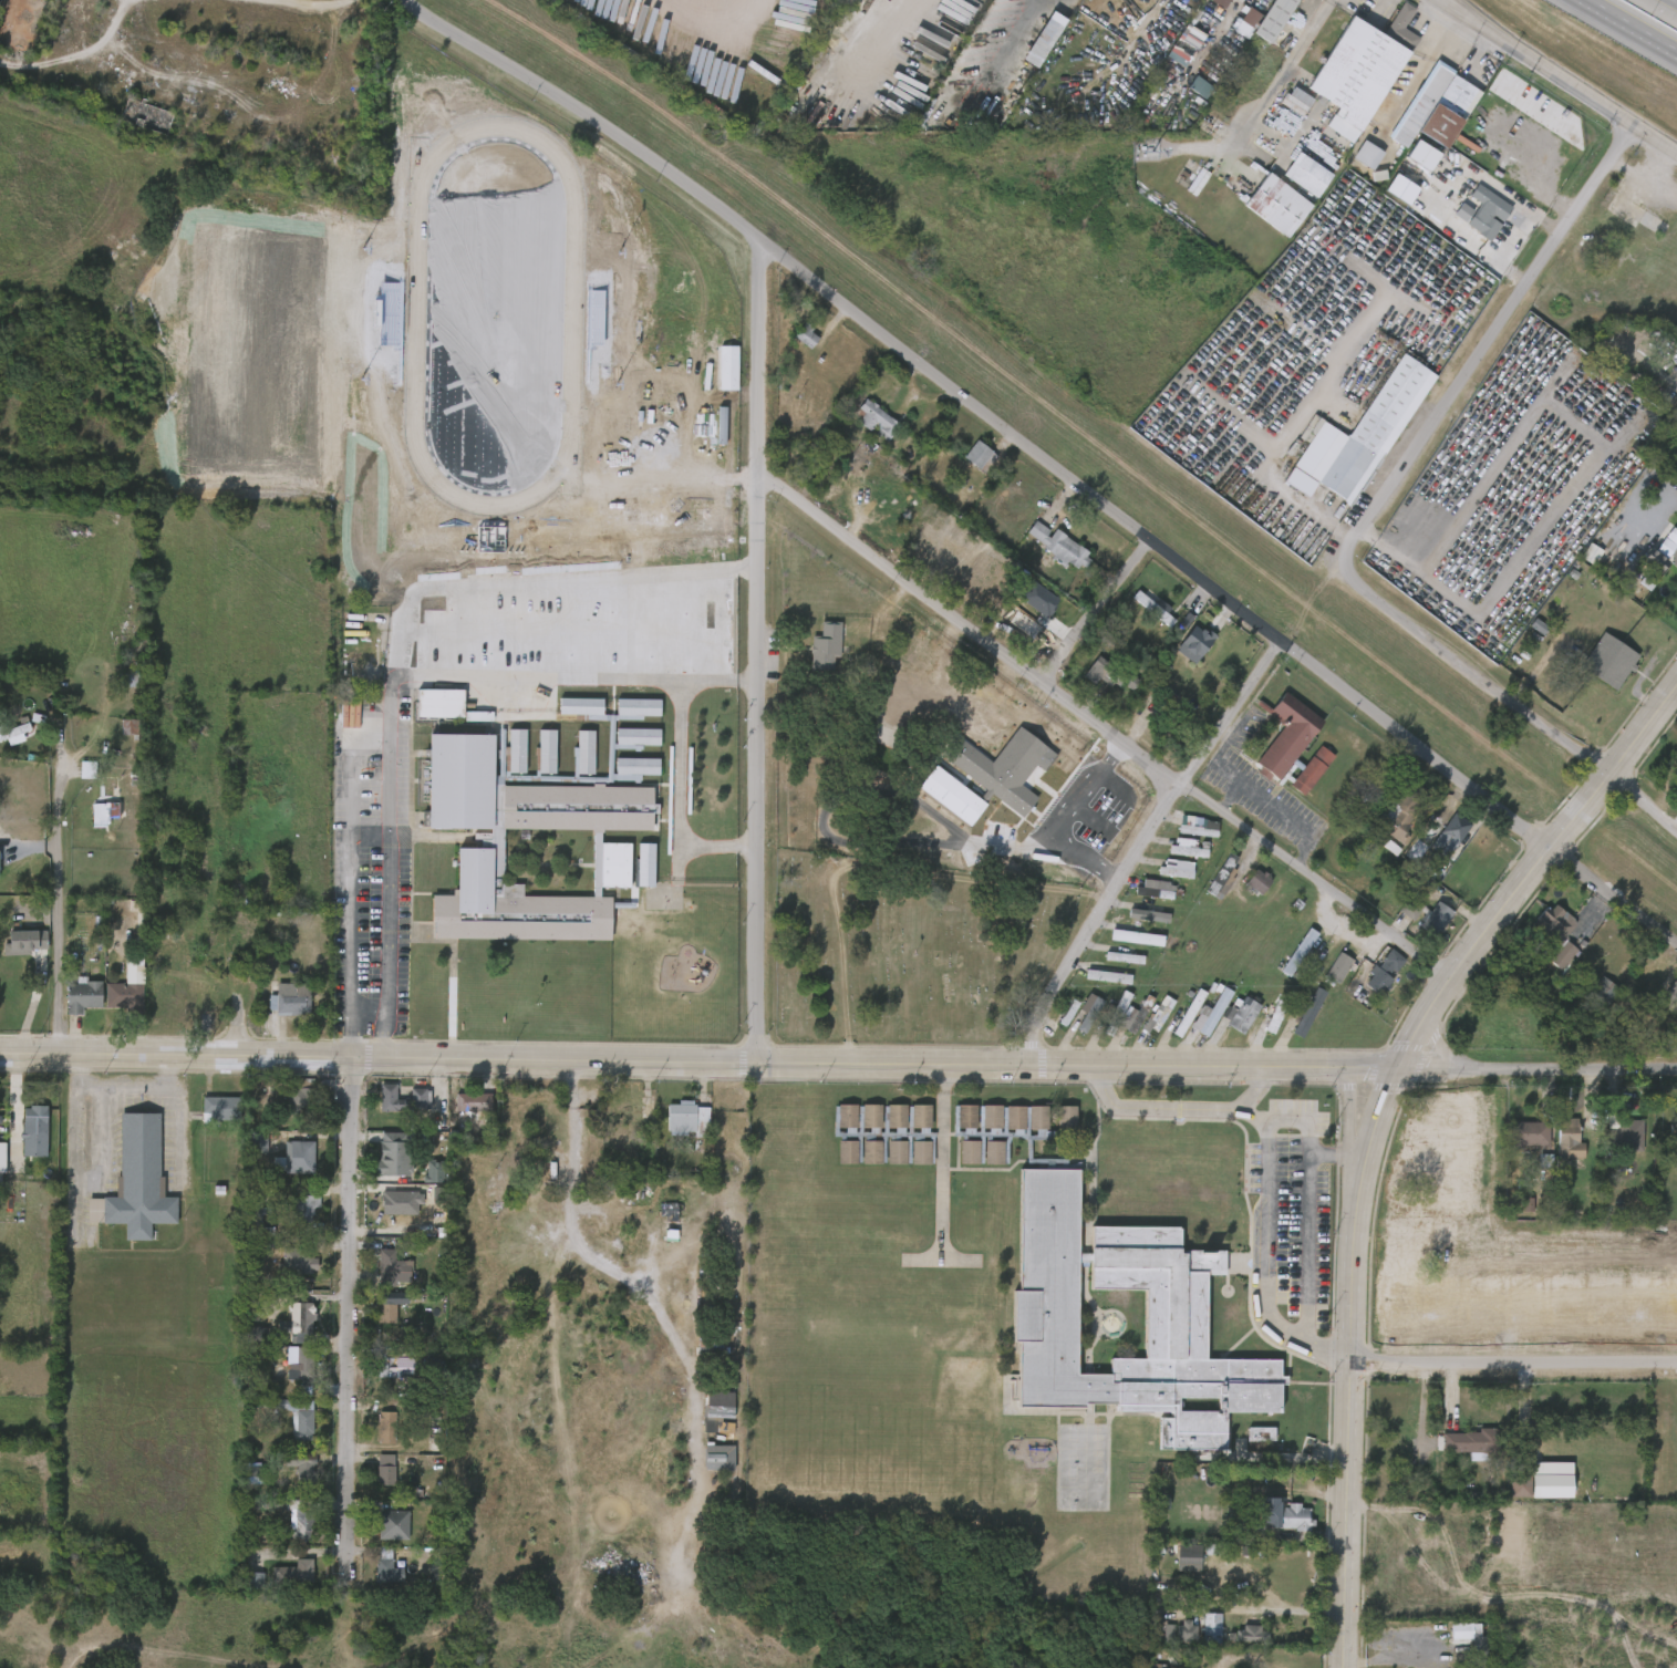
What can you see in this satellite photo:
road: (128, 0)
road: (1675, 1)
building: (1220, 2)
road: (1450, 6)
building: (1209, 7)
road: (278, 9)
road: (1321, 12)
building: (1266, 19)
building: (21, 24)
road: (1628, 28)
building: (1233, 32)
road: (1212, 37)
building: (1035, 38)
building: (1359, 70)
road: (1556, 77)
building: (1298, 101)
building: (1433, 107)
building: (1284, 108)
building: (147, 116)
building: (1354, 164)
building: (1304, 175)
building: (1293, 184)
building: (1272, 204)
building: (1489, 211)
building: (1470, 221)
road: (1539, 282)
building: (793, 344)
road: (750, 362)
building: (728, 366)
park: (505, 372)
building: (715, 377)
road: (1594, 394)
road: (976, 406)
building: (877, 419)
building: (863, 429)
building: (1365, 432)
building: (981, 456)
road: (1470, 458)
building: (966, 466)
road: (1394, 499)
building: (659, 515)
road: (1559, 527)
building: (1060, 546)
building: (615, 547)
building: (1665, 547)
building: (1046, 556)
building: (1650, 556)
road: (721, 569)
building: (1667, 580)
road: (1426, 581)
building: (361, 592)
building: (1152, 605)
road: (1103, 618)
road: (401, 634)
building: (1194, 640)
building: (827, 646)
building: (1180, 652)
building: (811, 656)
building: (1609, 661)
building: (1109, 674)
road: (716, 680)
building: (1081, 681)
road: (1508, 696)
building: (640, 707)
building: (426, 712)
building: (623, 717)
road: (1104, 727)
building: (13, 734)
building: (115, 736)
building: (639, 737)
building: (74, 738)
building: (1290, 744)
building: (623, 745)
building: (576, 749)
building: (598, 749)
building: (504, 759)
building: (532, 760)
road: (389, 762)
building: (570, 766)
road: (677, 767)
road: (754, 767)
building: (990, 776)
building: (75, 778)
building: (1676, 786)
road: (1242, 798)
road: (1226, 800)
building: (103, 804)
building: (938, 804)
building: (1398, 811)
road: (1368, 815)
road: (1062, 821)
building: (1455, 827)
building: (1184, 836)
building: (501, 837)
building: (1437, 843)
road: (349, 846)
road: (721, 848)
building: (1189, 850)
road: (1147, 853)
building: (1172, 857)
building: (1400, 859)
building: (1219, 873)
road: (1530, 876)
building: (1162, 878)
road: (56, 890)
building: (1244, 890)
road: (1613, 898)
building: (1142, 899)
building: (1437, 916)
building: (1396, 918)
building: (1135, 924)
building: (1422, 926)
building: (1554, 932)
building: (24, 940)
building: (1542, 942)
building: (1108, 944)
road: (387, 954)
building: (1285, 961)
building: (1110, 966)
building: (1384, 972)
building: (1324, 976)
building: (1369, 981)
park: (591, 982)
building: (1094, 985)
building: (81, 994)
building: (126, 994)
building: (1669, 994)
building: (1590, 998)
building: (291, 999)
building: (112, 1003)
building: (277, 1007)
building: (1660, 1007)
building: (1075, 1021)
building: (1198, 1021)
building: (1294, 1021)
building: (1145, 1022)
building: (1174, 1022)
building: (1228, 1024)
road: (348, 1025)
building: (1259, 1026)
building: (1119, 1027)
road: (698, 1061)
road: (1538, 1070)
building: (302, 1095)
building: (422, 1095)
road: (1241, 1095)
road: (108, 1097)
building: (475, 1101)
building: (284, 1108)
building: (390, 1108)
building: (219, 1109)
building: (459, 1110)
building: (631, 1110)
building: (868, 1116)
building: (892, 1116)
building: (915, 1116)
road: (1137, 1117)
building: (207, 1118)
building: (687, 1119)
building: (834, 1125)
building: (882, 1125)
building: (907, 1125)
building: (674, 1128)
road: (1287, 1129)
building: (33, 1130)
building: (1526, 1135)
building: (1622, 1138)
building: (1673, 1138)
building: (1567, 1139)
building: (21, 1140)
building: (1515, 1142)
building: (1555, 1148)
building: (246, 1150)
building: (397, 1151)
building: (893, 1152)
building: (918, 1152)
building: (301, 1157)
building: (834, 1160)
building: (857, 1161)
building: (882, 1161)
building: (907, 1161)
building: (380, 1162)
road: (939, 1162)
road: (1331, 1165)
building: (282, 1167)
building: (421, 1180)
building: (135, 1181)
building: (1, 1188)
building: (302, 1203)
building: (387, 1211)
building: (252, 1213)
road: (1357, 1213)
building: (292, 1215)
road: (1251, 1235)
road: (1295, 1256)
building: (296, 1257)
road: (578, 1266)
building: (391, 1267)
building: (284, 1268)
building: (377, 1275)
building: (1115, 1277)
building: (387, 1309)
road: (345, 1310)
building: (376, 1314)
building: (300, 1317)
building: (284, 1330)
building: (255, 1336)
building: (245, 1343)
road: (1321, 1358)
road: (1513, 1364)
building: (392, 1367)
building: (303, 1368)
building: (379, 1377)
building: (705, 1413)
road: (1522, 1415)
building: (297, 1416)
building: (287, 1426)
building: (385, 1428)
building: (702, 1434)
building: (373, 1436)
building: (435, 1439)
building: (1470, 1440)
building: (1246, 1442)
building: (1458, 1451)
building: (1675, 1452)
building: (705, 1465)
building: (384, 1470)
building: (301, 1471)
building: (291, 1477)
building: (372, 1478)
building: (1520, 1485)
building: (1509, 1495)
road: (1347, 1515)
building: (1292, 1516)
building: (383, 1523)
building: (1270, 1523)
building: (302, 1524)
building: (286, 1529)
building: (1174, 1560)
building: (292, 1573)
building: (373, 1574)
building: (281, 1581)
building: (242, 1588)
building: (1212, 1628)
building: (1250, 1633)
building: (1198, 1635)
building: (1166, 1639)
building: (1447, 1639)

